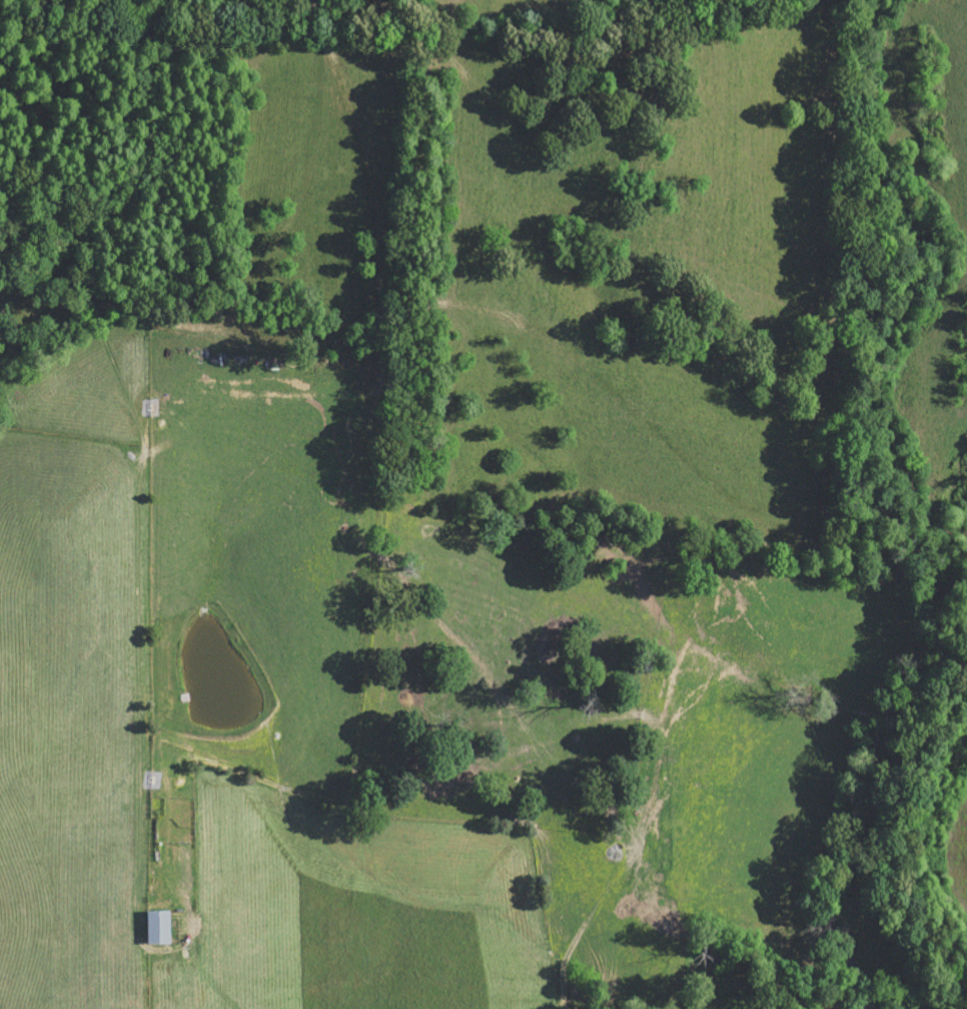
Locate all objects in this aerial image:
building: (161, 928)

